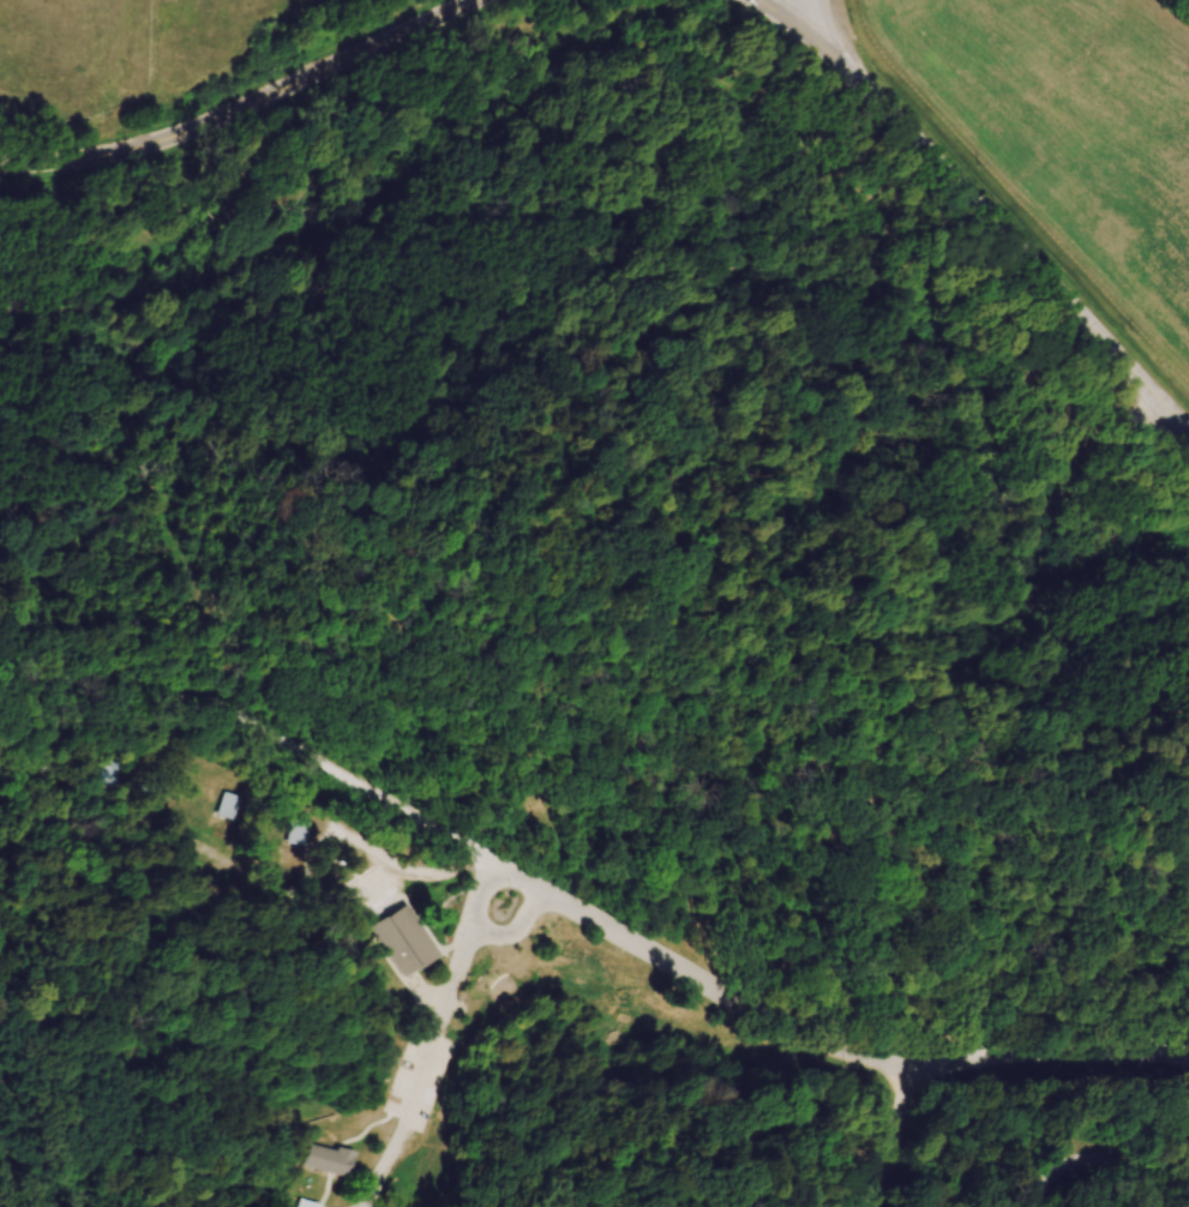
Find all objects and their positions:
road: (809, 17)
road: (511, 34)
road: (245, 108)
road: (979, 208)
road: (895, 216)
road: (206, 242)
road: (66, 426)
parking lot: (1157, 426)
building: (1059, 428)
road: (1101, 434)
road: (1055, 492)
road: (1104, 502)
road: (1073, 520)
park: (246, 558)
road: (1038, 574)
road: (209, 596)
road: (1113, 596)
road: (629, 605)
road: (1016, 637)
park: (599, 648)
road: (259, 727)
road: (461, 732)
building: (156, 791)
building: (229, 807)
road: (776, 827)
building: (296, 833)
road: (204, 836)
building: (346, 854)
building: (204, 879)
road: (472, 896)
road: (1059, 905)
road: (452, 924)
road: (420, 937)
road: (516, 938)
building: (402, 948)
road: (440, 966)
road: (413, 983)
road: (941, 1020)
road: (822, 1035)
road: (745, 1059)
parking lot: (426, 1074)
road: (422, 1075)
park: (881, 1124)
road: (368, 1129)
road: (909, 1137)
road: (1083, 1158)
building: (335, 1161)
road: (752, 1187)
road: (336, 1190)
building: (317, 1203)

